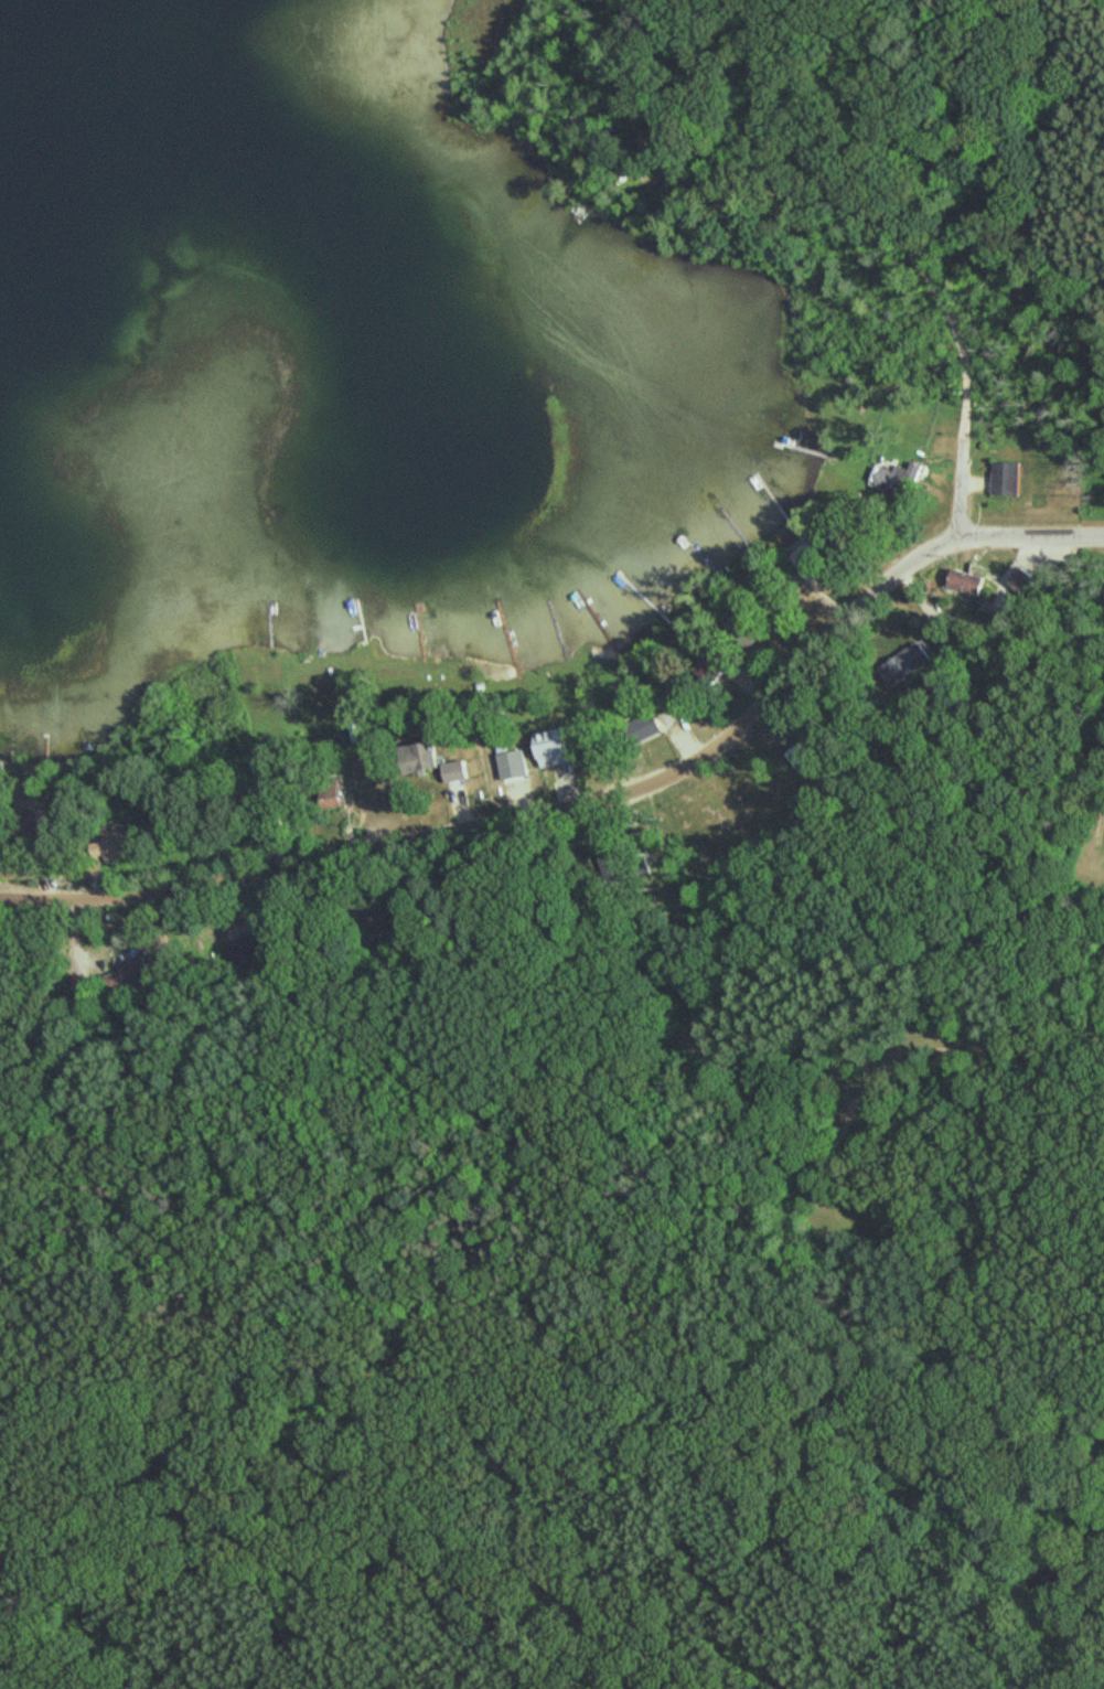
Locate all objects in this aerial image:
road: (964, 359)
building: (896, 481)
building: (1008, 481)
building: (808, 555)
building: (971, 582)
building: (1025, 584)
building: (908, 666)
building: (687, 698)
building: (649, 731)
building: (555, 757)
building: (419, 760)
road: (594, 803)
building: (44, 829)
building: (115, 848)
building: (245, 943)
building: (129, 979)

